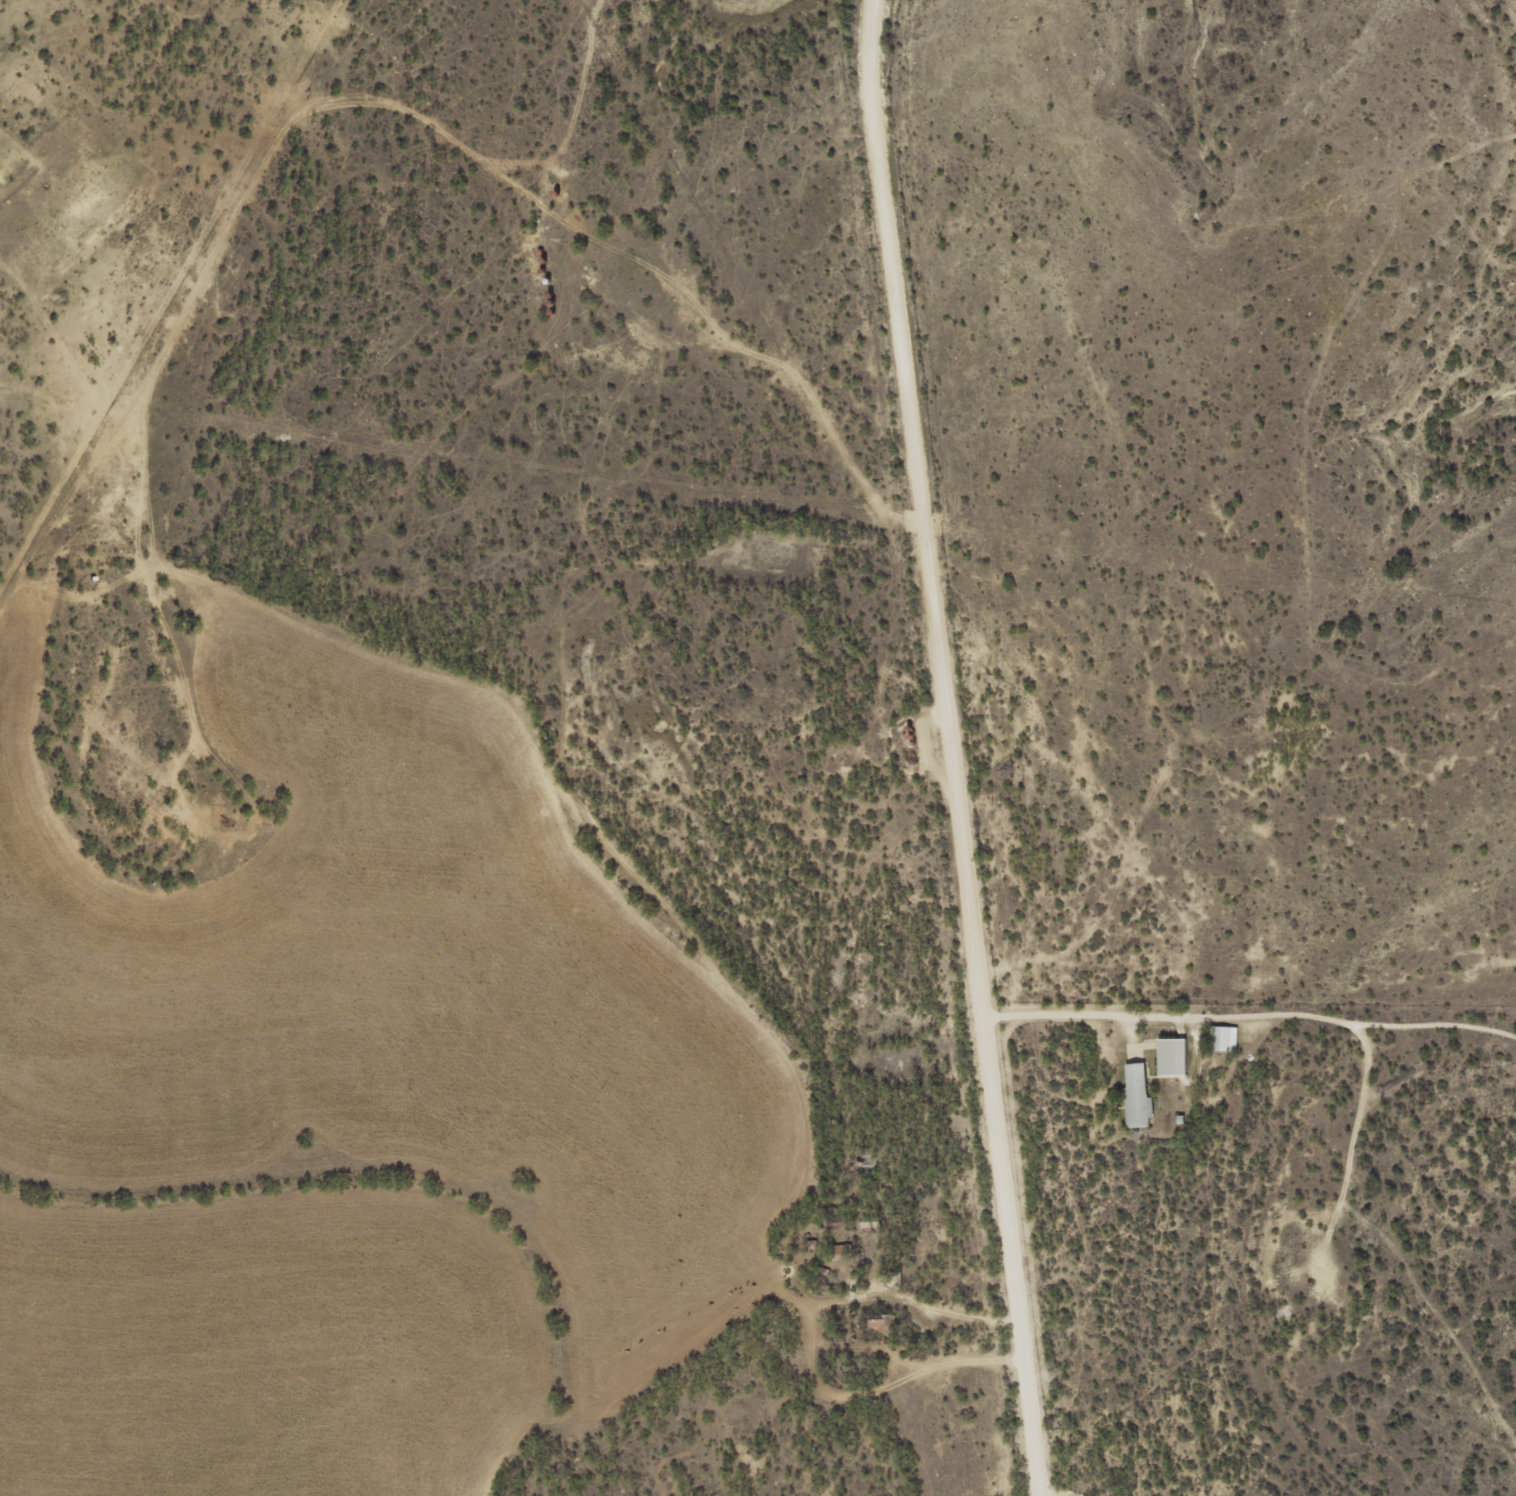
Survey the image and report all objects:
road: (944, 748)
building: (1227, 1037)
building: (1175, 1056)
building: (1139, 1095)

